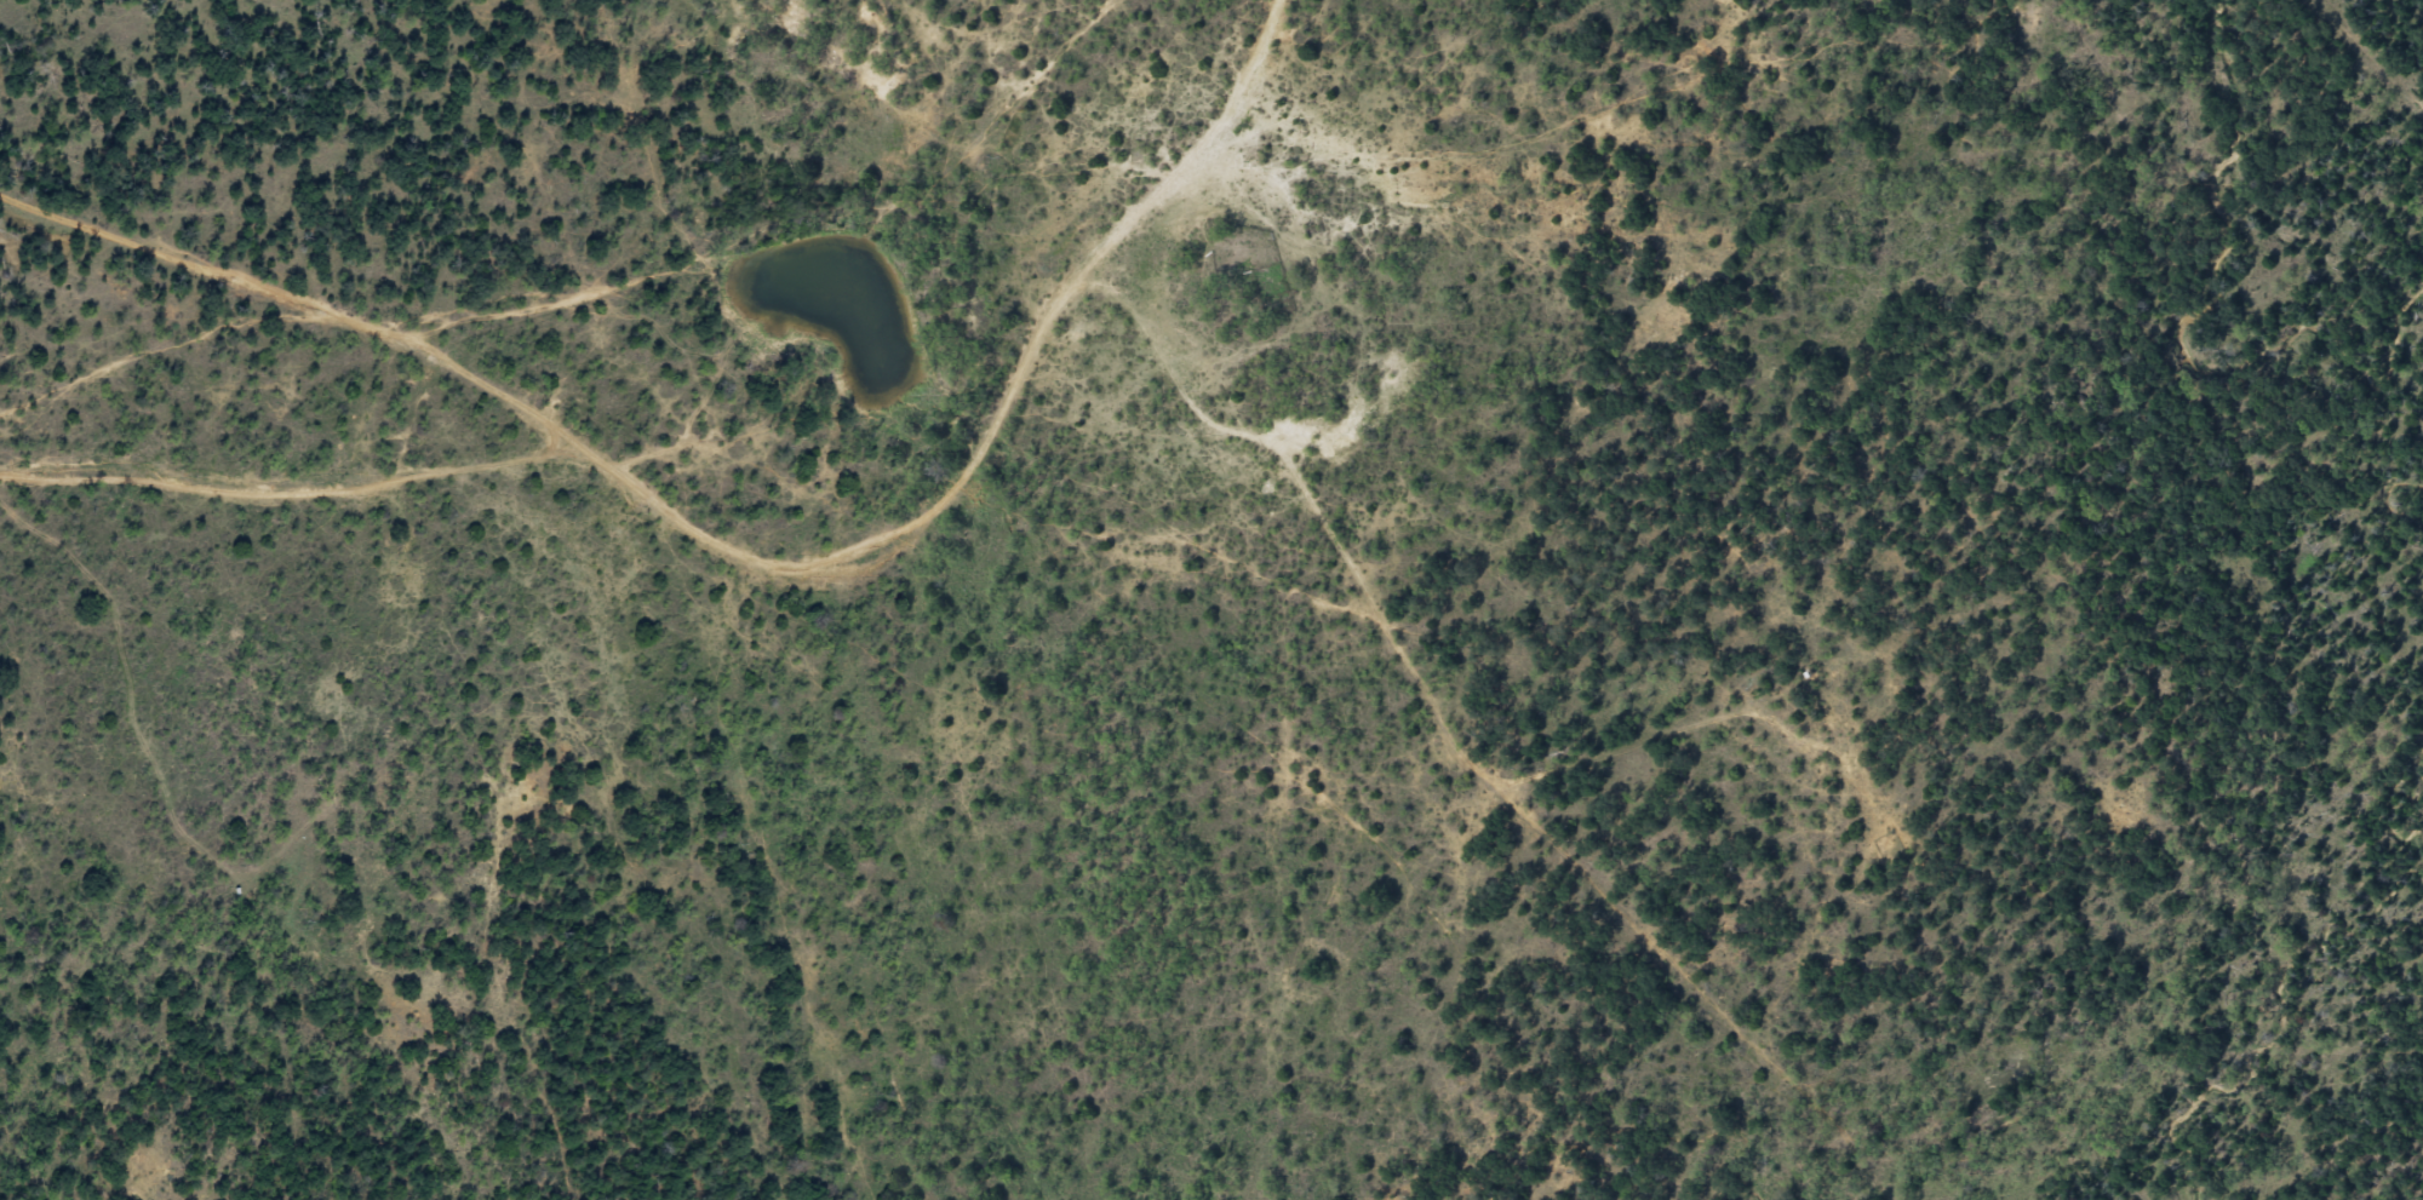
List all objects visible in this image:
road: (282, 291)
road: (785, 547)

